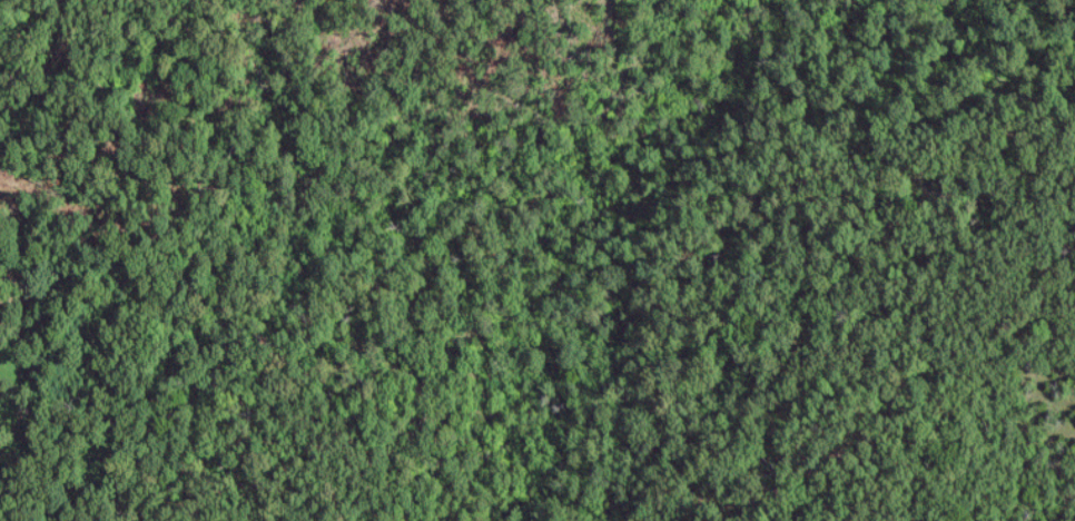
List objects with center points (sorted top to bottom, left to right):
road: (159, 28)

